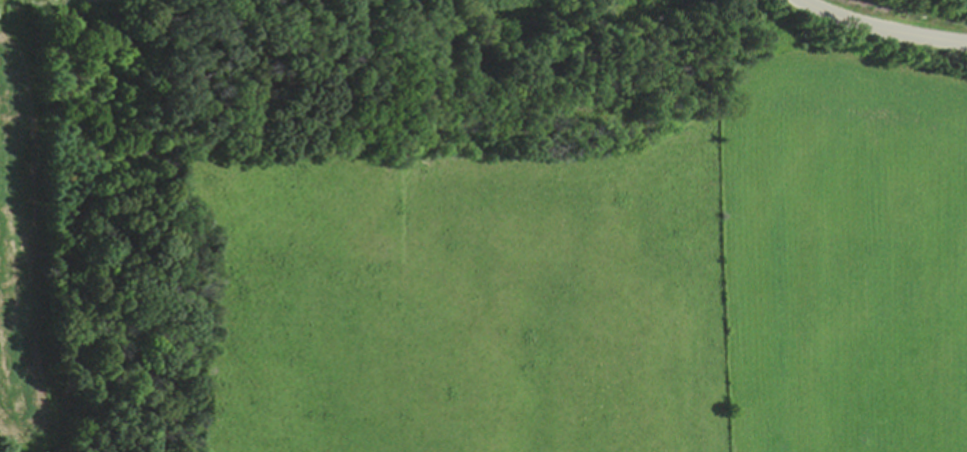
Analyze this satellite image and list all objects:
road: (881, 29)

